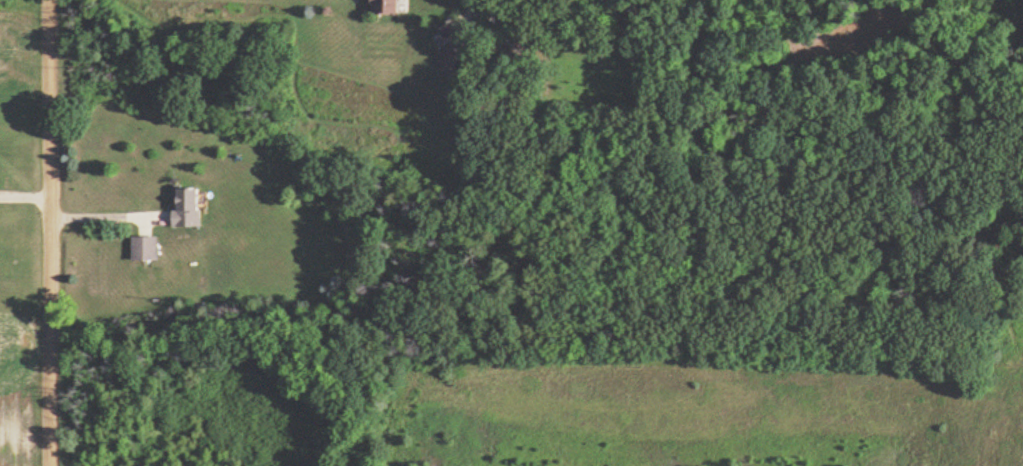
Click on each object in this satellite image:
building: (391, 6)
building: (452, 59)
building: (190, 209)
road: (103, 215)
road: (49, 232)
building: (146, 248)

